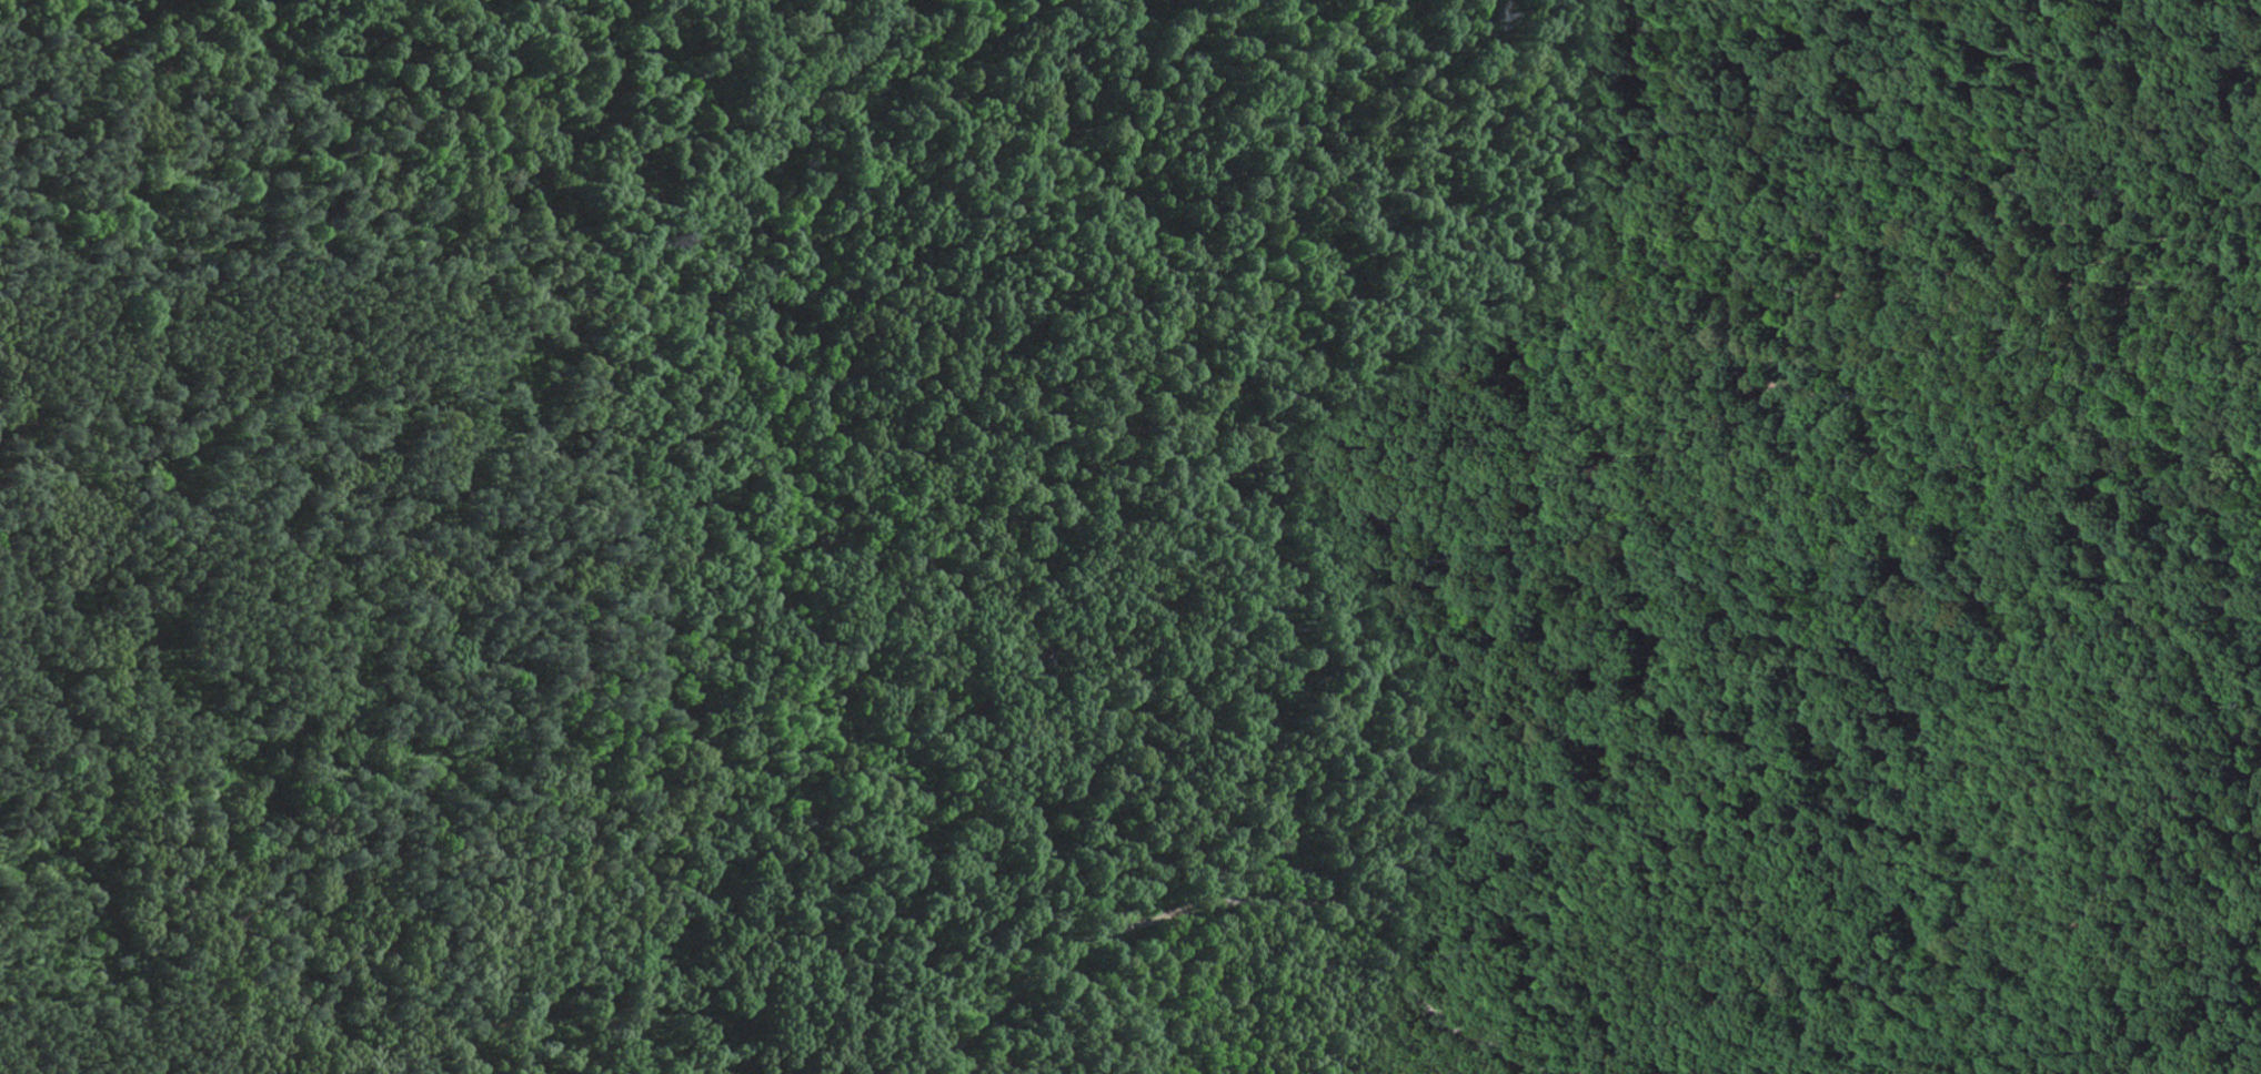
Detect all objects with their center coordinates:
road: (1246, 900)

